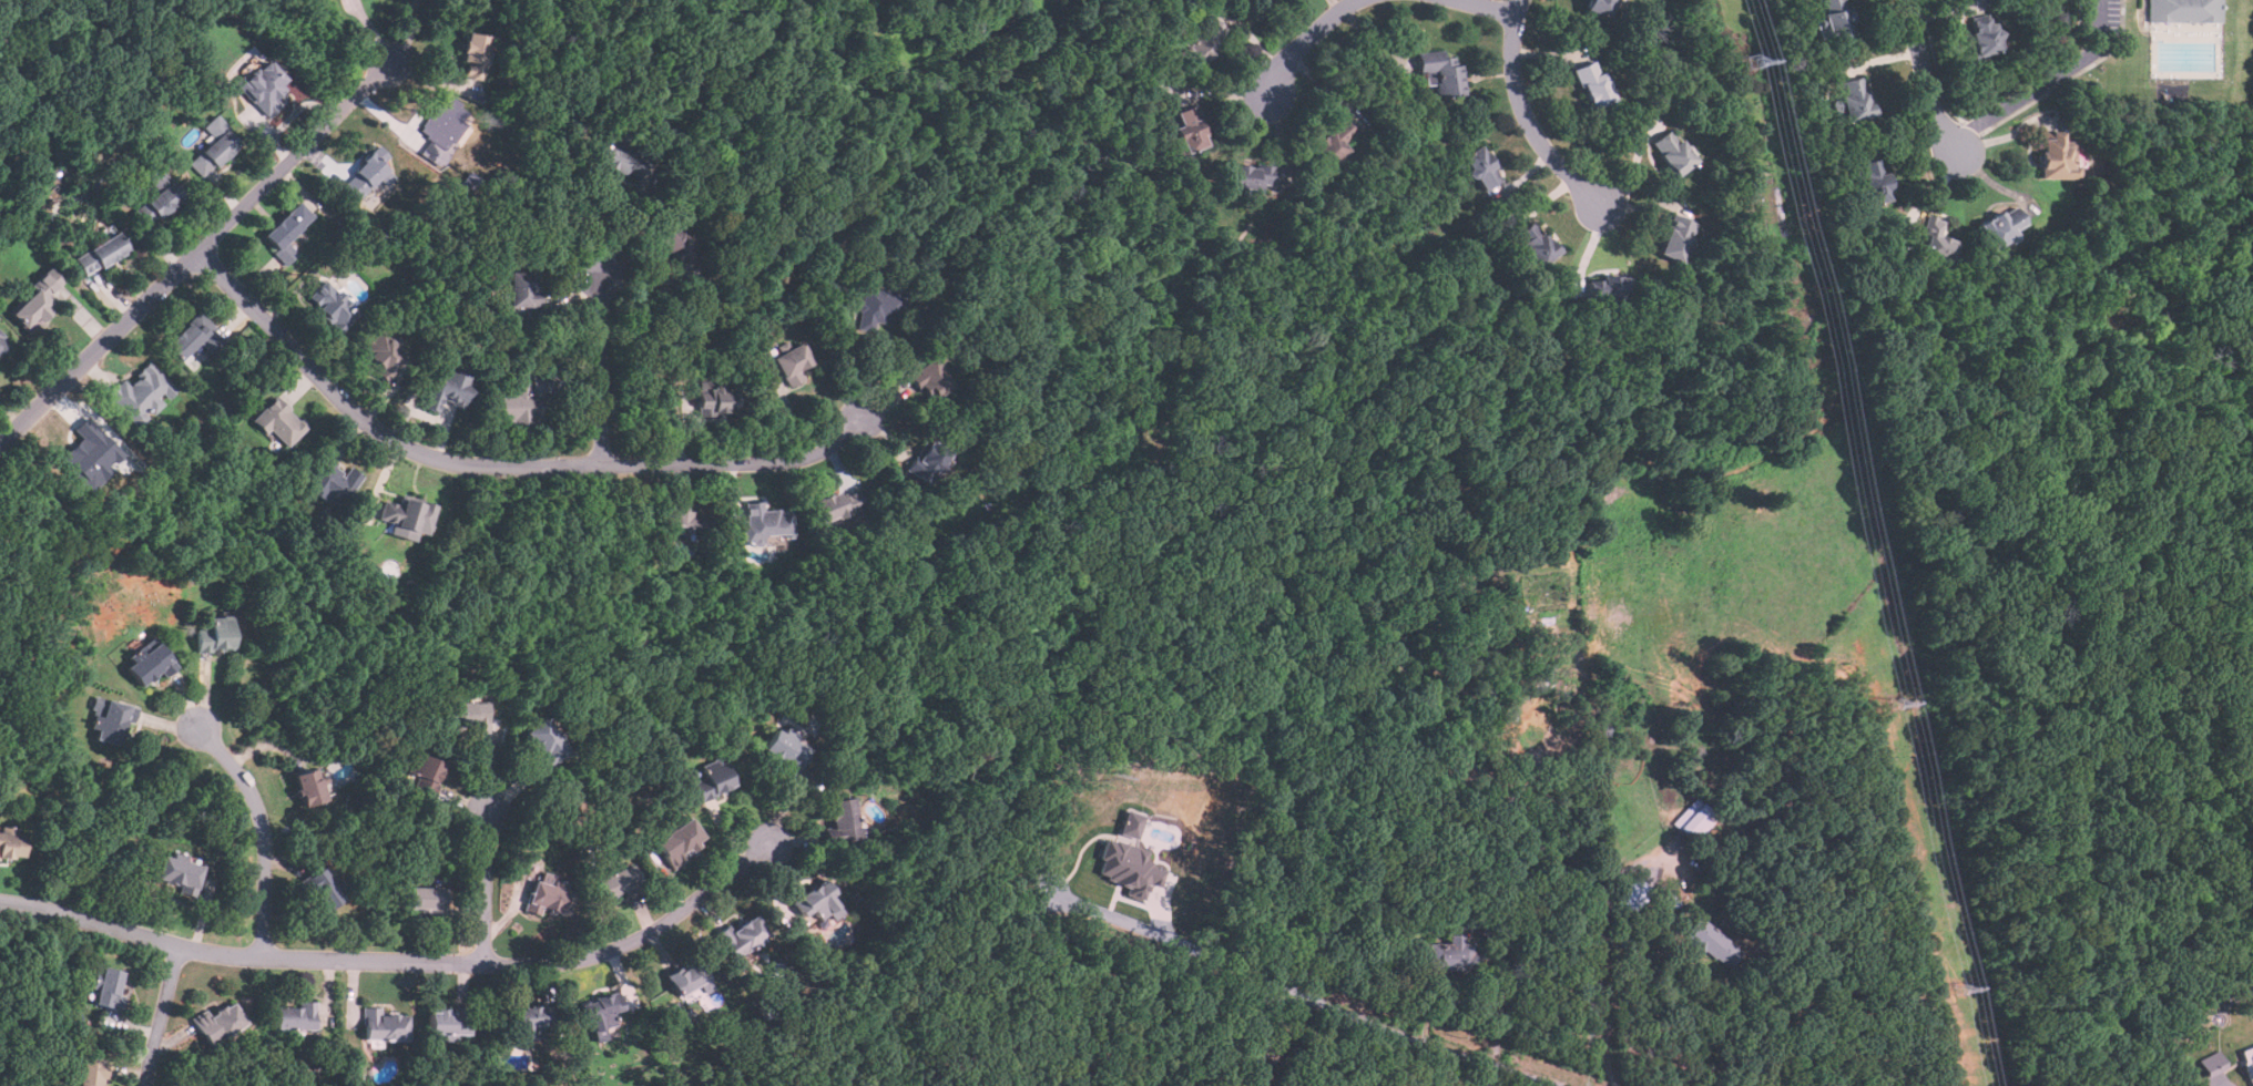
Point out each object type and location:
building: (1255, 0)
building: (1260, 0)
road: (1492, 7)
building: (1599, 7)
building: (2185, 11)
building: (1836, 18)
road: (408, 32)
building: (1984, 37)
road: (1304, 41)
building: (1201, 43)
building: (473, 57)
power tower: (1750, 62)
building: (1440, 72)
road: (1926, 78)
building: (261, 82)
road: (2045, 82)
building: (1593, 85)
building: (1855, 100)
road: (1526, 115)
building: (444, 121)
building: (1189, 131)
building: (1333, 143)
building: (213, 147)
building: (1672, 153)
building: (2055, 156)
building: (621, 162)
building: (1481, 168)
building: (364, 176)
building: (1252, 178)
building: (1874, 181)
building: (155, 199)
building: (2000, 227)
road: (629, 229)
building: (285, 230)
building: (672, 240)
building: (1676, 240)
building: (1935, 240)
building: (1536, 244)
road: (195, 253)
building: (100, 255)
building: (1607, 289)
building: (521, 290)
building: (35, 303)
building: (332, 306)
building: (880, 308)
building: (193, 338)
building: (2, 342)
building: (383, 356)
building: (792, 363)
road: (602, 370)
building: (930, 380)
building: (446, 391)
building: (140, 396)
building: (524, 401)
building: (715, 401)
road: (428, 416)
building: (278, 423)
building: (92, 451)
building: (928, 462)
road: (497, 465)
building: (332, 482)
building: (836, 505)
building: (405, 518)
building: (689, 522)
building: (764, 523)
building: (214, 634)
building: (146, 664)
power tower: (1895, 703)
building: (465, 716)
building: (110, 720)
building: (546, 740)
building: (783, 750)
building: (425, 769)
building: (713, 778)
building: (307, 786)
building: (1694, 819)
building: (842, 820)
road: (264, 830)
building: (677, 841)
building: (10, 846)
building: (1128, 865)
building: (177, 871)
building: (616, 882)
road: (487, 887)
building: (322, 889)
building: (548, 894)
building: (427, 900)
building: (815, 900)
building: (741, 935)
building: (1713, 942)
building: (1452, 954)
road: (401, 960)
road: (1233, 961)
road: (1602, 962)
building: (685, 976)
building: (106, 986)
power tower: (1959, 988)
road: (1497, 1004)
building: (601, 1010)
road: (1172, 1011)
building: (681, 1012)
road: (162, 1015)
building: (294, 1016)
building: (446, 1020)
building: (531, 1020)
building: (217, 1021)
building: (383, 1024)
road: (1414, 1037)
road: (1768, 1047)
building: (2249, 1061)
building: (2214, 1063)
building: (89, 1073)

